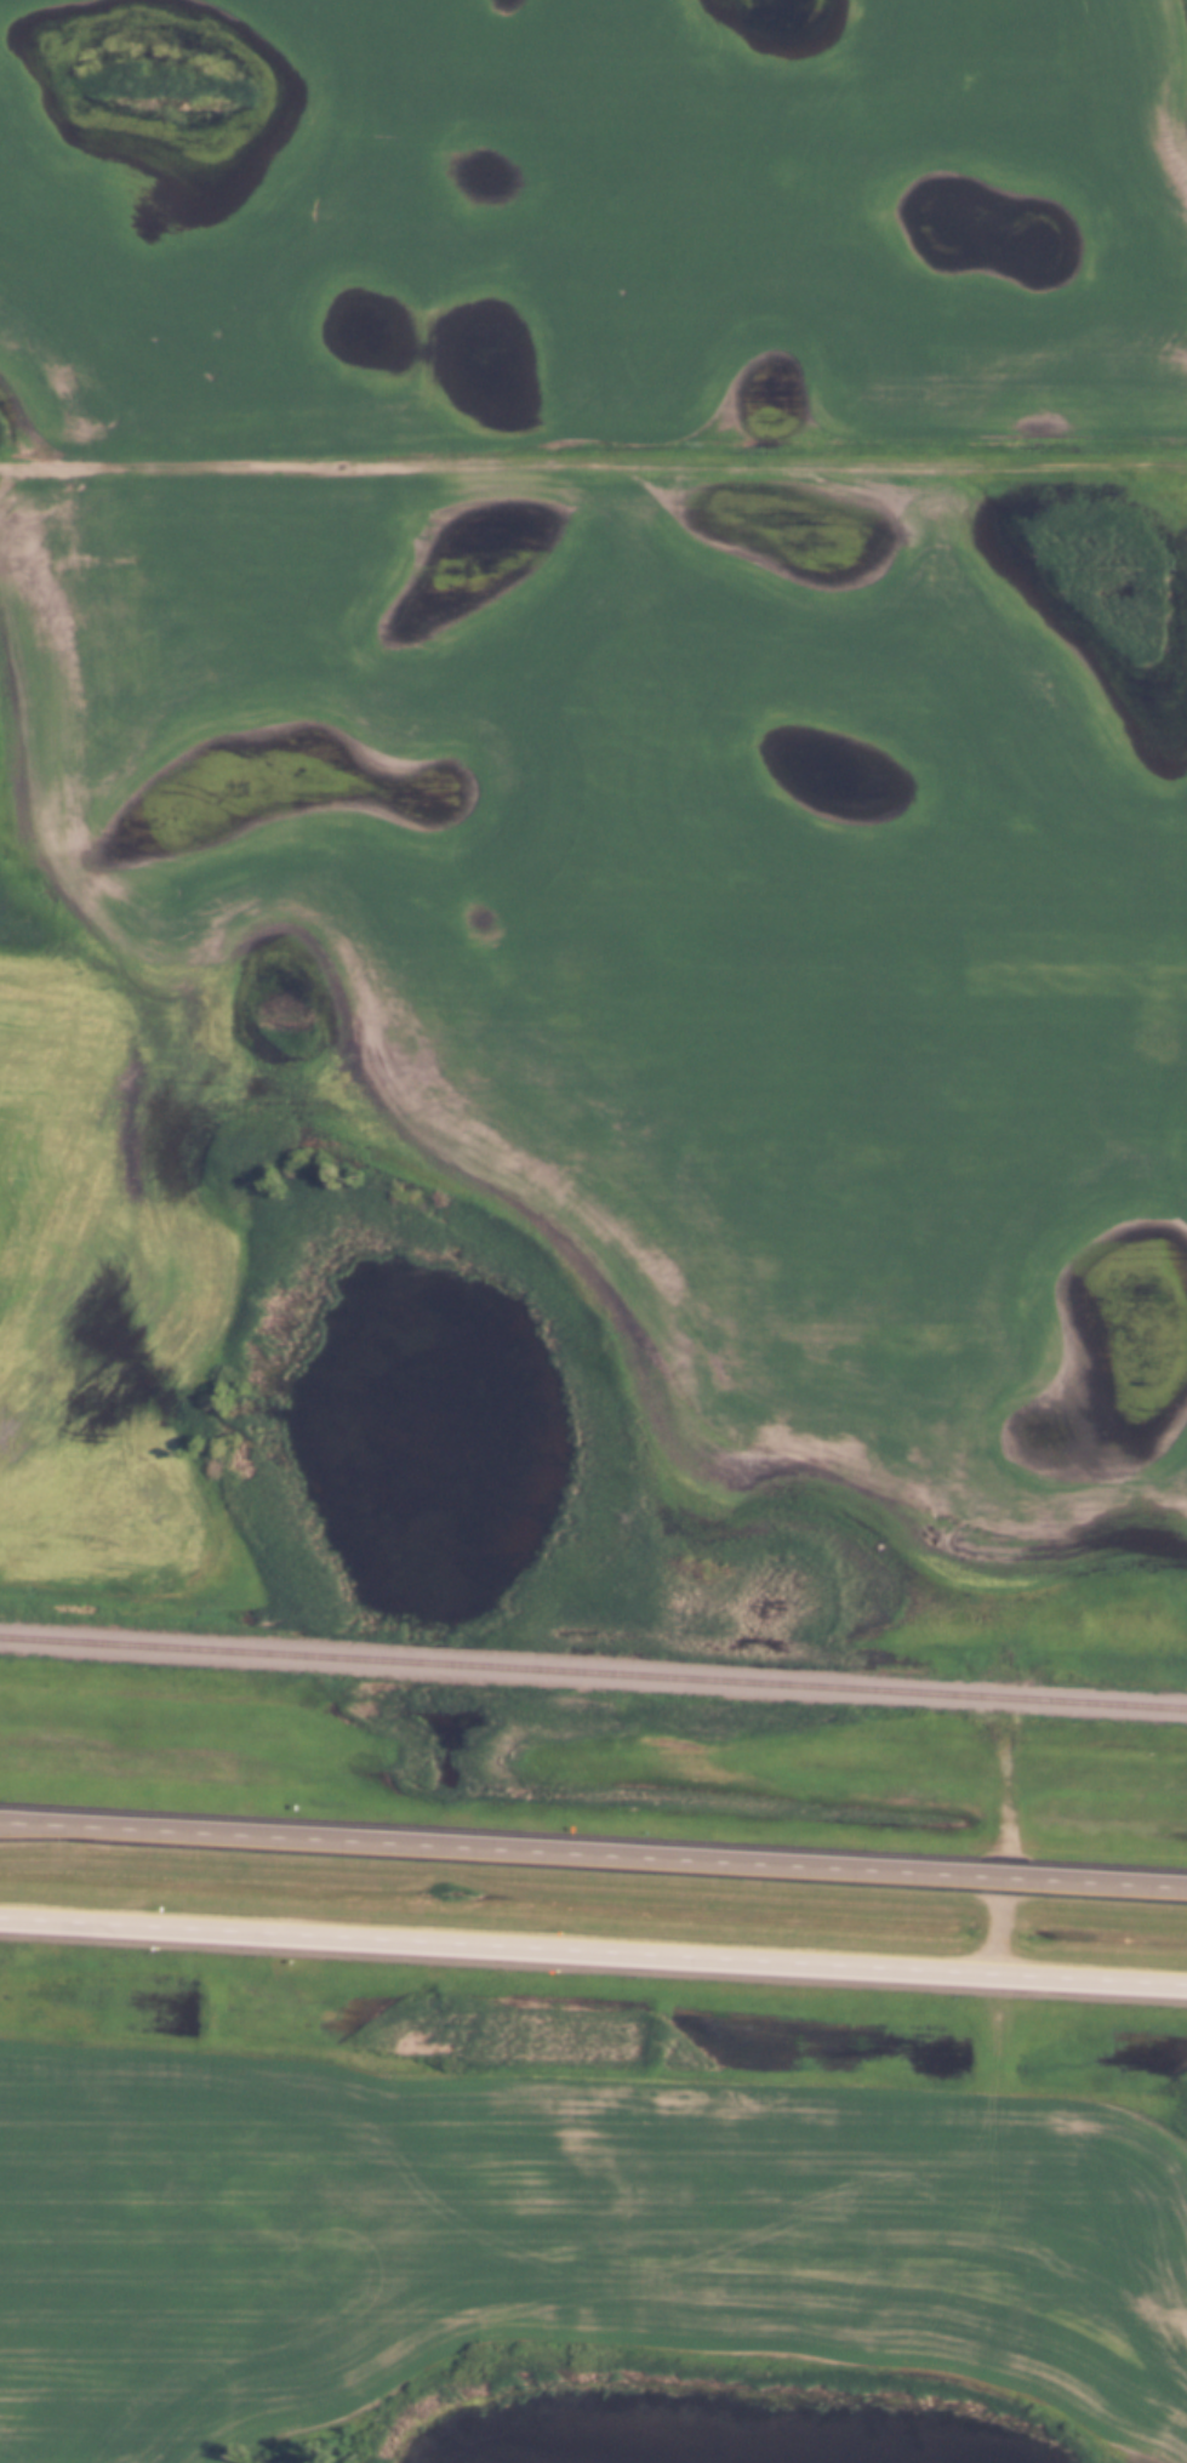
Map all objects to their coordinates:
road: (593, 466)
railway: (593, 1672)
road: (1006, 1763)
road: (593, 1851)
road: (999, 1925)
road: (593, 1949)

